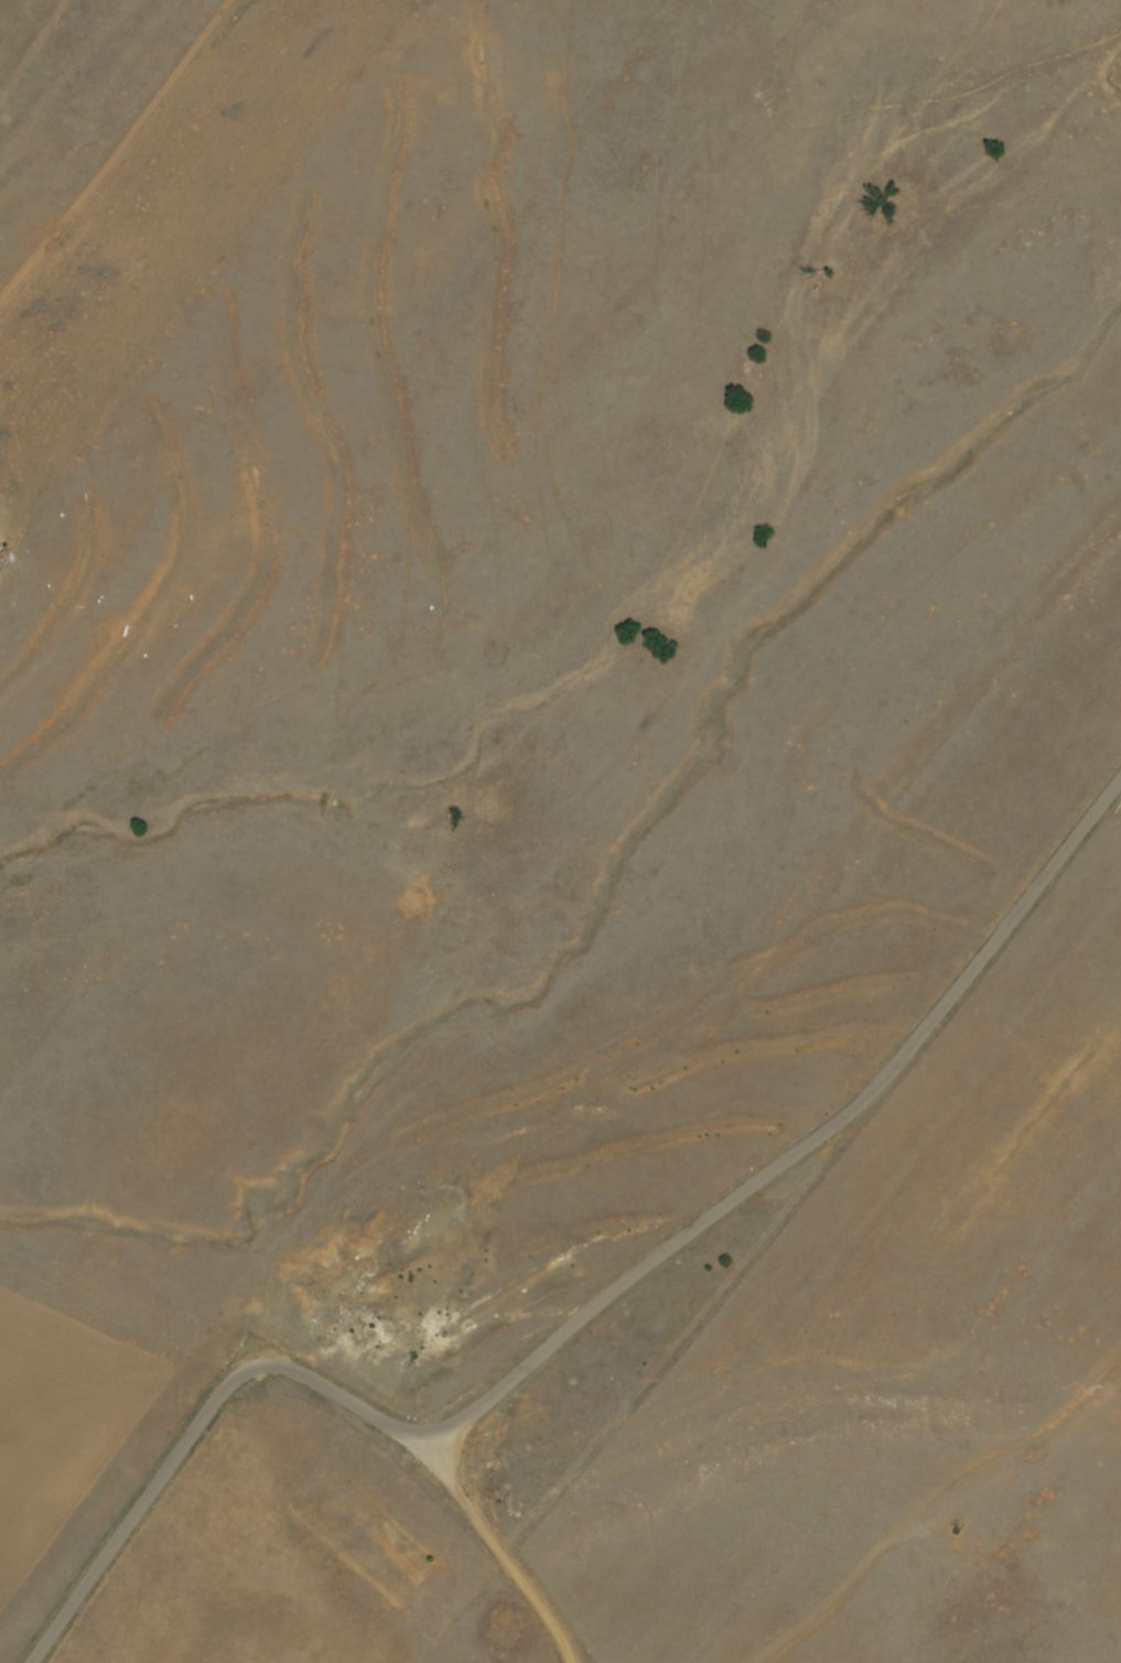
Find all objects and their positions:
road: (579, 1332)
road: (499, 1548)

